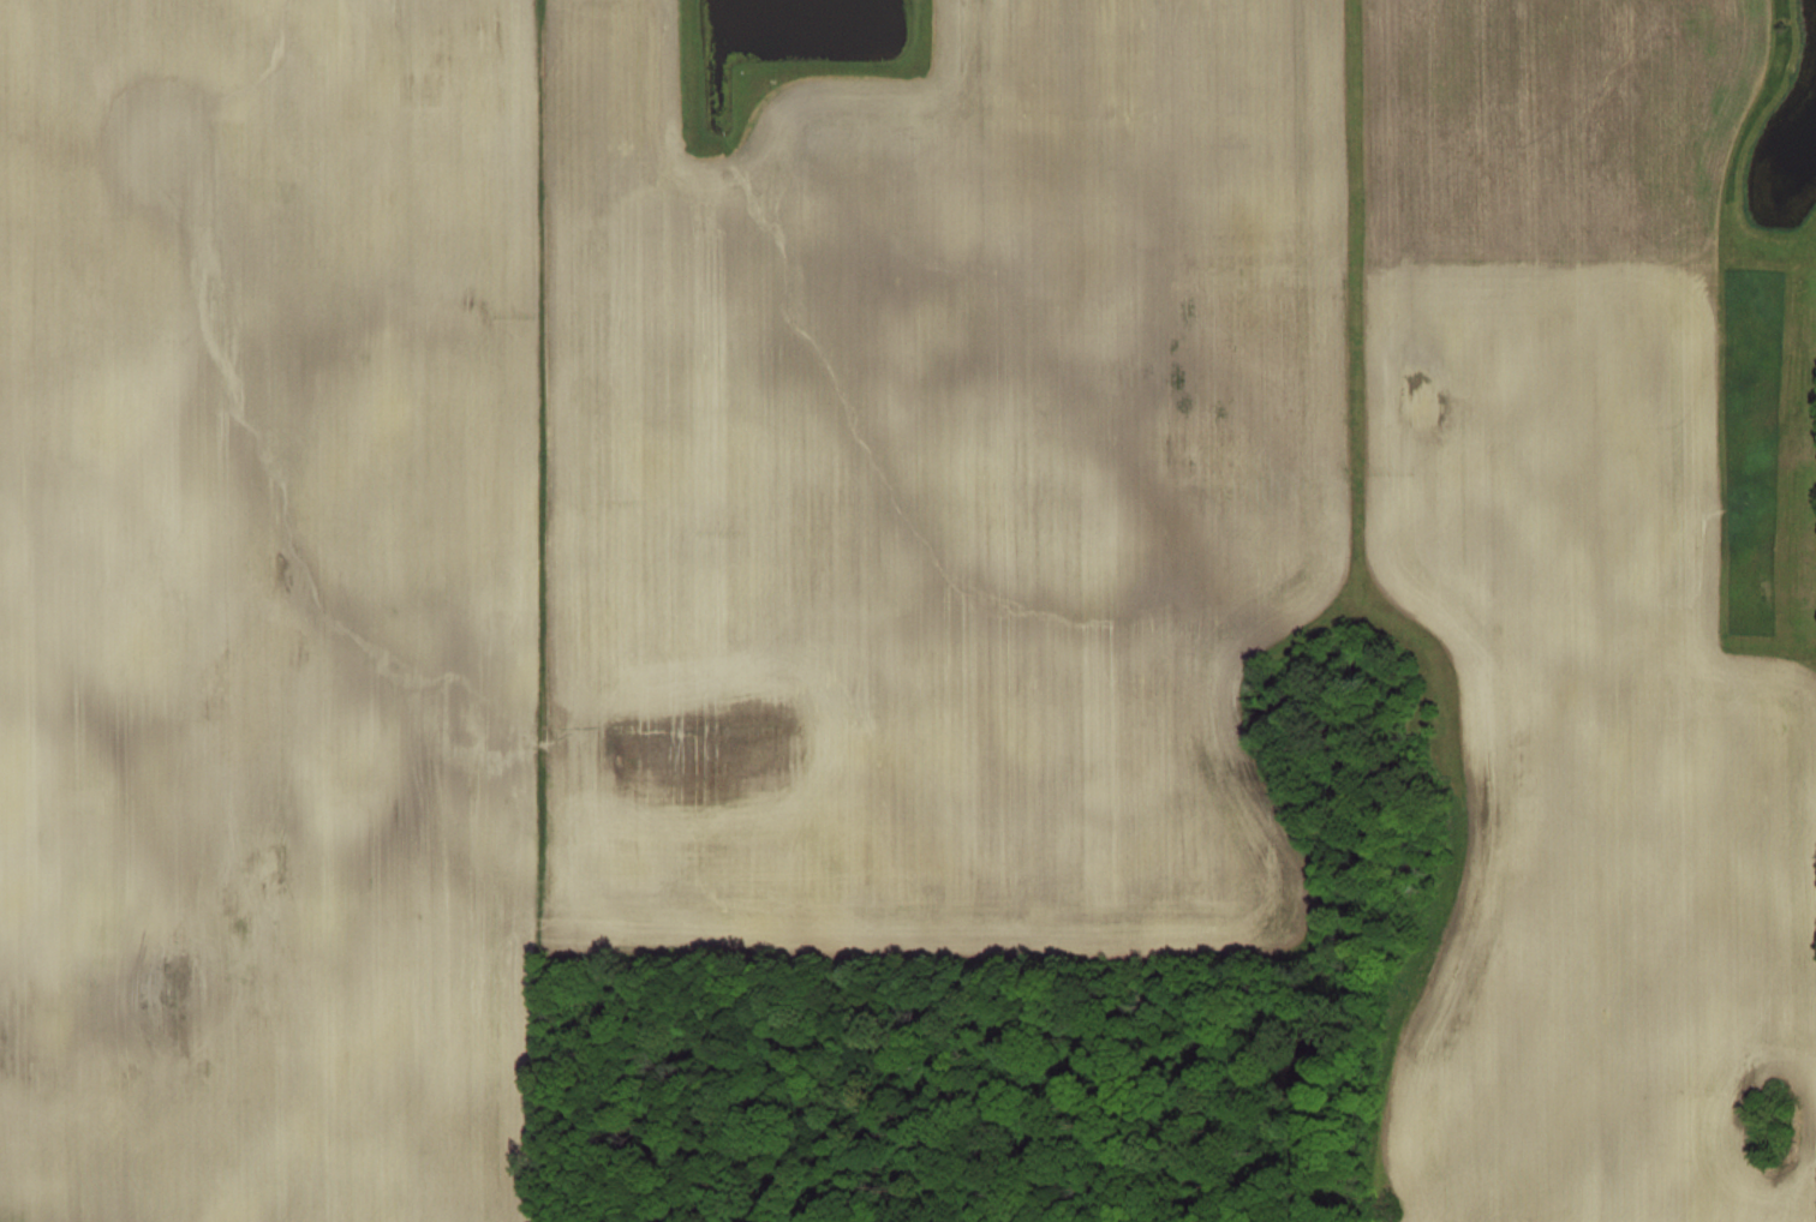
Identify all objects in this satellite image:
crop: (267, 612)

